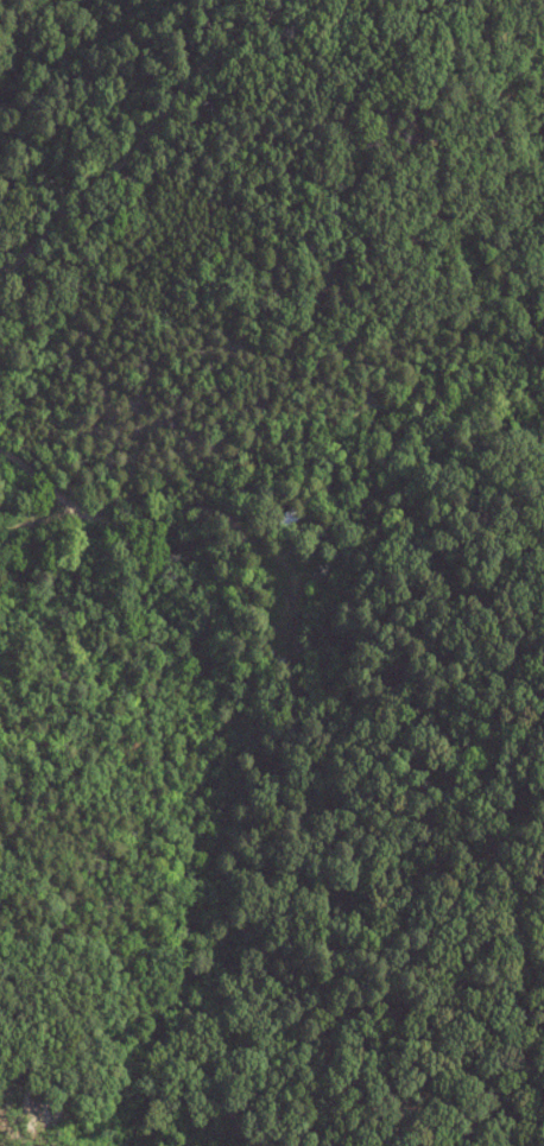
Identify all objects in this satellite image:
road: (510, 1101)

